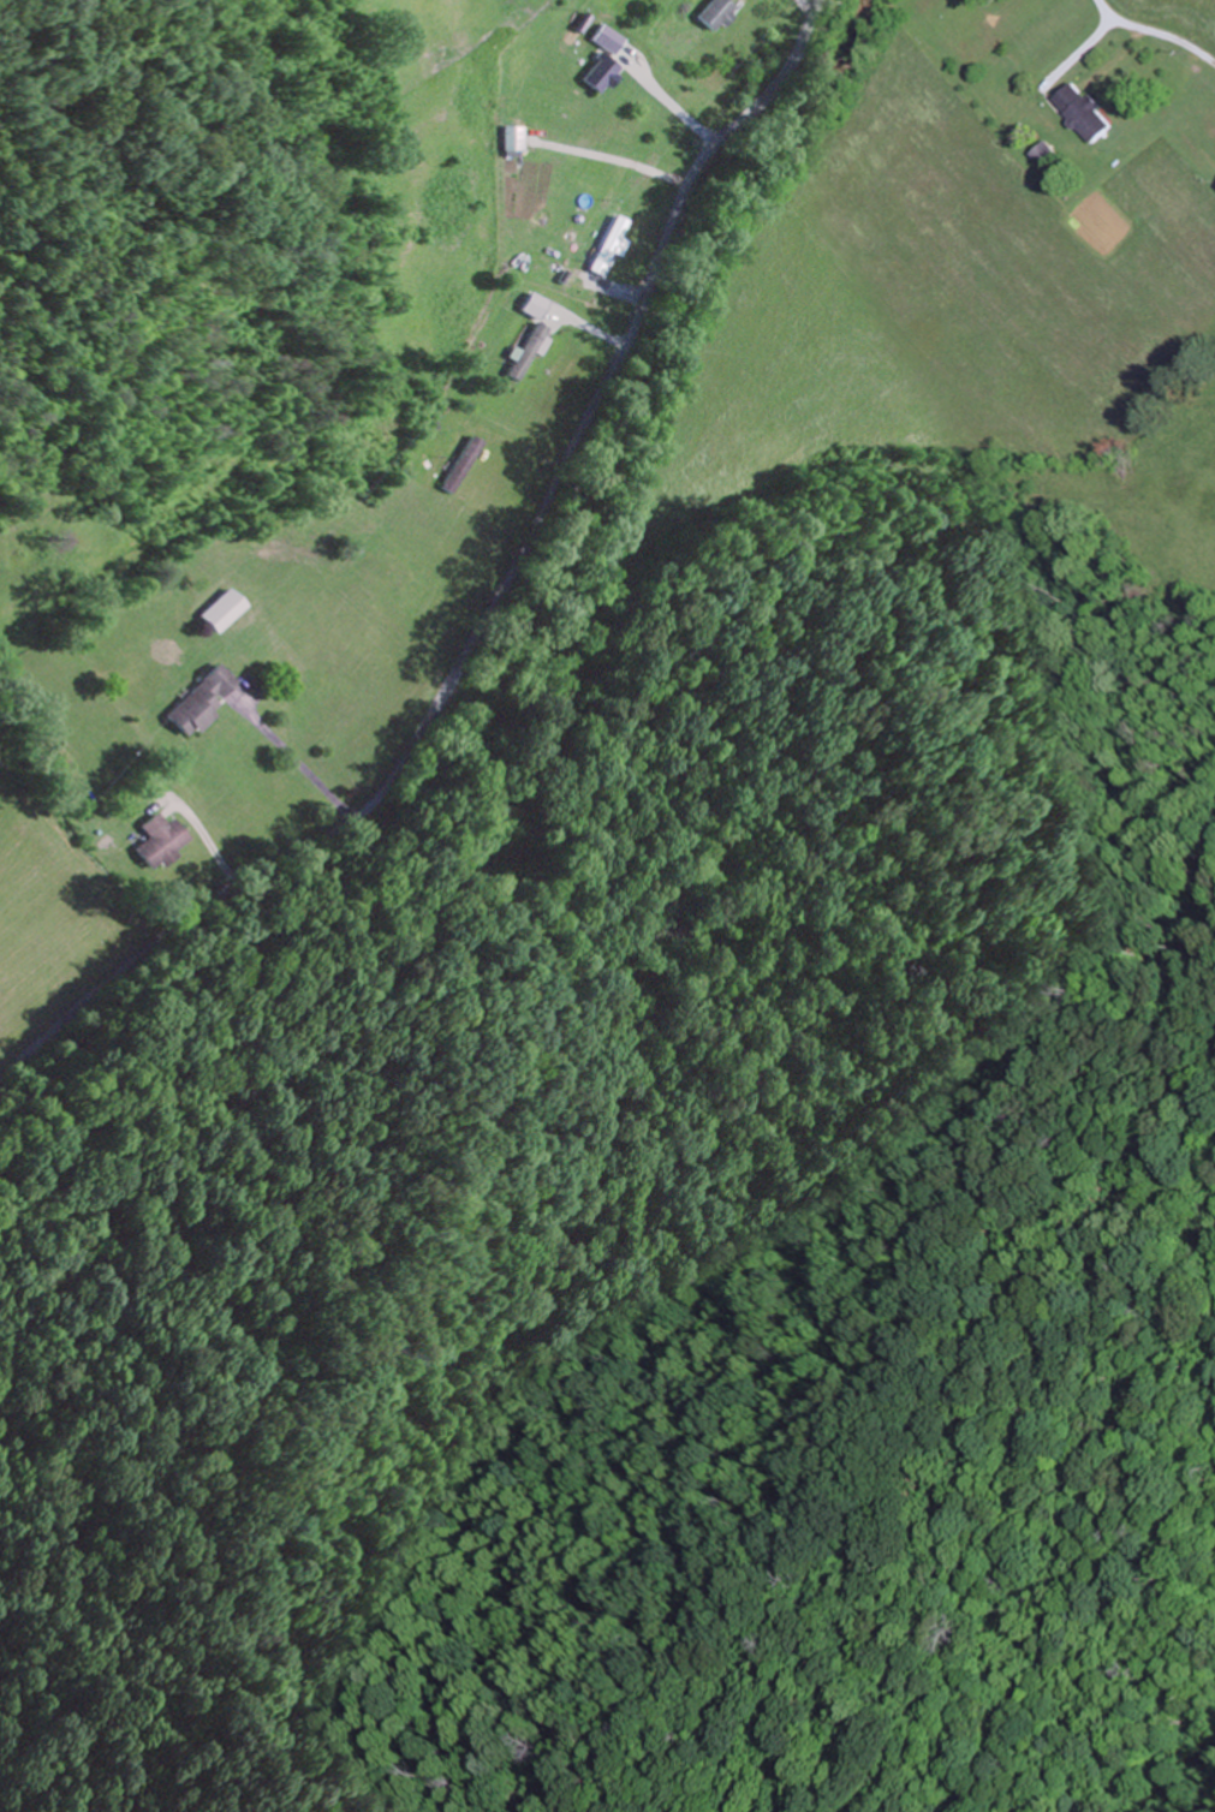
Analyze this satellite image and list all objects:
building: (717, 12)
road: (1174, 30)
building: (602, 72)
building: (1088, 112)
building: (604, 242)
building: (535, 306)
building: (523, 358)
building: (463, 464)
road: (489, 607)
building: (230, 609)
building: (204, 702)
building: (162, 841)

